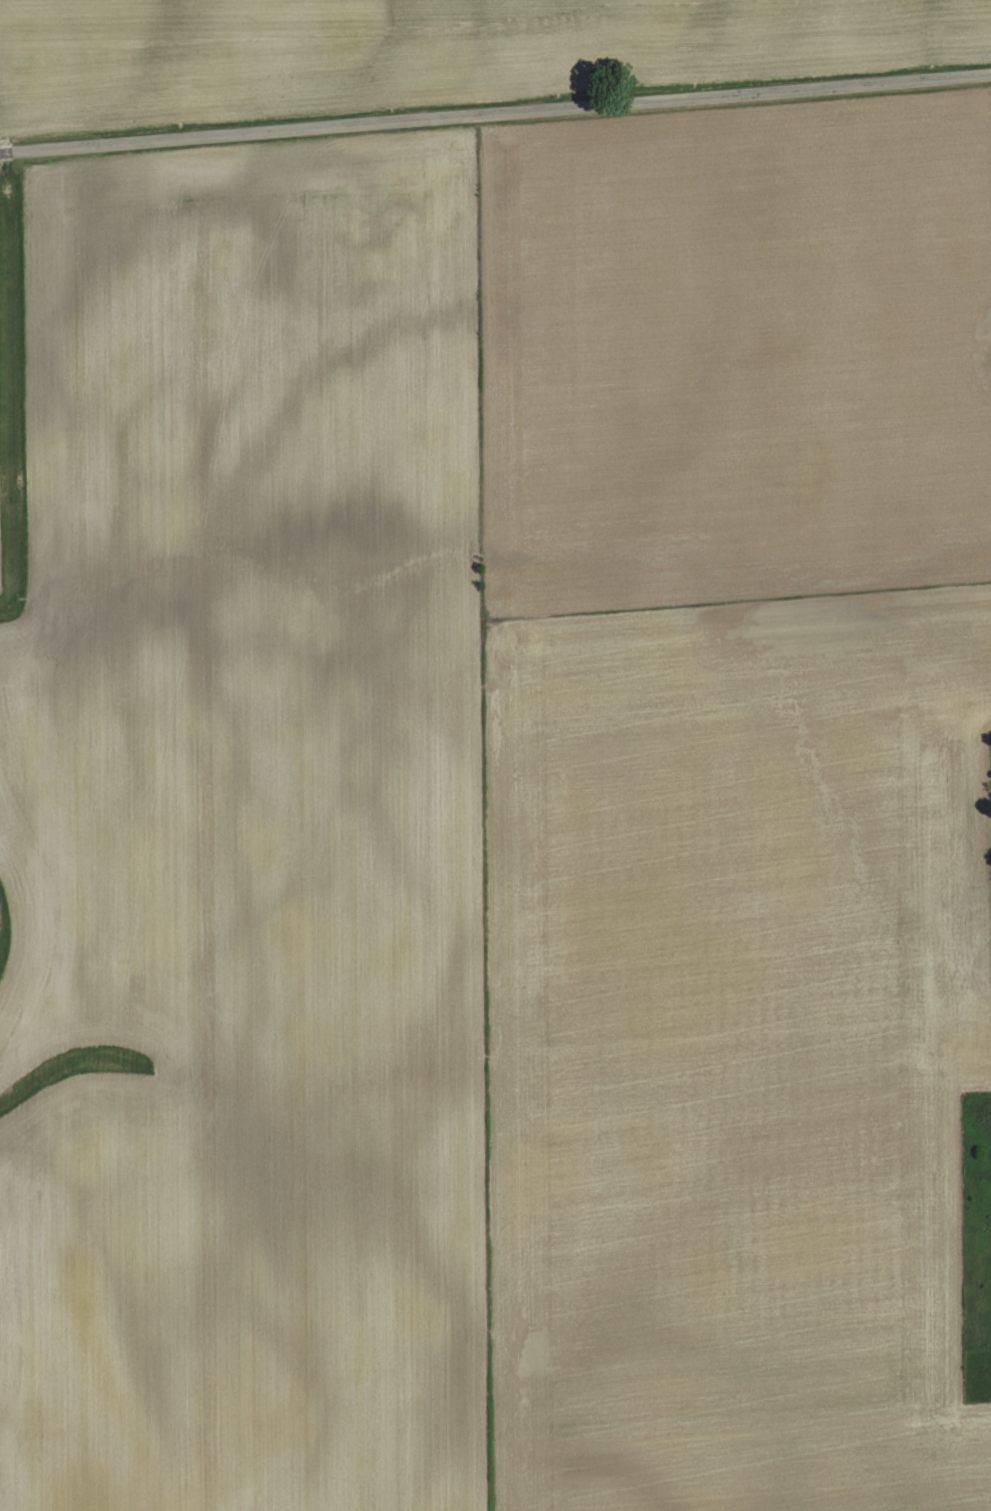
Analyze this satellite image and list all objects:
road: (495, 113)

